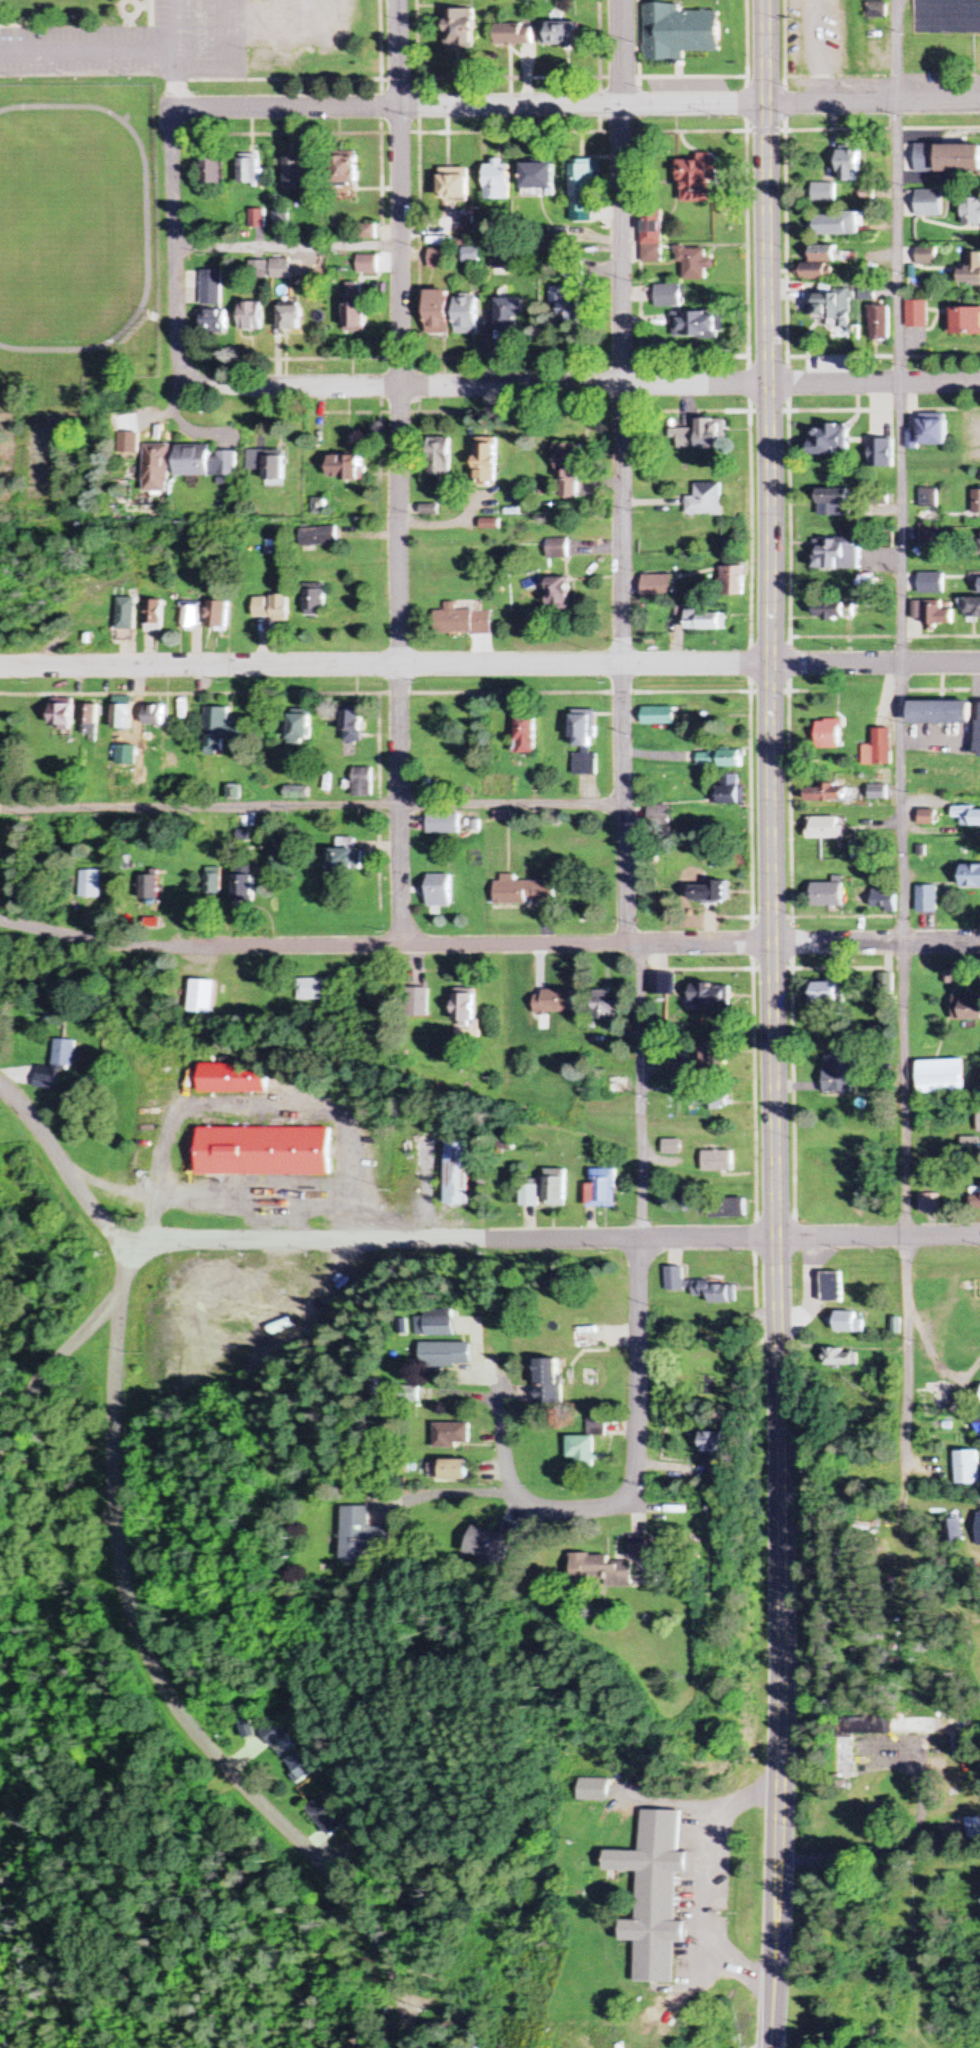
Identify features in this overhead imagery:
building: (876, 11)
building: (947, 17)
building: (460, 29)
building: (679, 33)
building: (513, 35)
building: (563, 35)
road: (574, 107)
building: (926, 159)
building: (960, 160)
building: (850, 167)
building: (210, 169)
building: (248, 172)
building: (344, 172)
building: (293, 173)
building: (537, 177)
building: (699, 179)
building: (496, 181)
building: (450, 185)
building: (582, 186)
building: (825, 193)
building: (931, 204)
building: (972, 213)
track: (143, 215)
building: (254, 219)
building: (277, 219)
building: (842, 225)
building: (651, 242)
road: (170, 247)
building: (825, 255)
building: (928, 257)
building: (437, 258)
building: (501, 260)
building: (694, 263)
building: (365, 264)
building: (277, 269)
building: (972, 272)
building: (668, 296)
building: (208, 304)
building: (836, 307)
building: (565, 309)
building: (352, 310)
building: (437, 313)
building: (510, 314)
building: (466, 315)
building: (918, 315)
building: (247, 317)
building: (287, 319)
building: (964, 322)
building: (881, 323)
building: (697, 326)
road: (576, 386)
building: (933, 434)
building: (697, 437)
building: (831, 441)
building: (882, 454)
building: (440, 457)
building: (205, 463)
building: (268, 464)
building: (487, 464)
building: (157, 469)
building: (347, 469)
road: (399, 472)
building: (568, 472)
building: (928, 497)
building: (976, 500)
building: (705, 501)
building: (832, 501)
building: (431, 510)
building: (926, 532)
building: (319, 537)
building: (979, 547)
building: (558, 548)
building: (836, 553)
building: (732, 580)
building: (930, 583)
building: (976, 585)
building: (659, 586)
building: (559, 593)
building: (315, 600)
building: (271, 606)
building: (972, 607)
building: (832, 609)
building: (931, 613)
building: (217, 615)
building: (153, 617)
building: (189, 617)
building: (126, 619)
building: (463, 620)
building: (706, 620)
road: (490, 664)
building: (942, 712)
building: (62, 714)
building: (154, 715)
building: (123, 716)
building: (659, 716)
building: (90, 719)
building: (353, 726)
building: (301, 727)
building: (219, 730)
building: (526, 733)
building: (830, 734)
building: (585, 741)
building: (881, 748)
road: (622, 753)
building: (720, 759)
building: (363, 782)
building: (732, 790)
building: (879, 792)
building: (827, 793)
building: (968, 815)
building: (928, 817)
building: (444, 823)
building: (824, 828)
building: (346, 855)
building: (971, 876)
building: (212, 883)
building: (243, 884)
building: (87, 885)
building: (148, 887)
building: (439, 890)
building: (523, 892)
building: (708, 892)
building: (827, 895)
building: (927, 899)
building: (884, 903)
road: (889, 927)
road: (771, 941)
road: (488, 945)
building: (659, 984)
building: (312, 988)
building: (828, 992)
building: (708, 996)
building: (202, 997)
building: (418, 1001)
building: (554, 1002)
building: (464, 1006)
building: (607, 1006)
building: (967, 1008)
building: (62, 1052)
building: (169, 1057)
building: (838, 1074)
building: (943, 1076)
building: (45, 1078)
building: (231, 1078)
building: (618, 1085)
building: (706, 1098)
building: (978, 1122)
building: (670, 1147)
building: (262, 1151)
road: (64, 1160)
building: (715, 1162)
building: (458, 1171)
building: (554, 1188)
building: (600, 1188)
building: (528, 1193)
building: (688, 1201)
building: (974, 1202)
building: (928, 1203)
building: (724, 1208)
road: (553, 1241)
building: (697, 1287)
building: (830, 1287)
building: (436, 1323)
building: (846, 1323)
building: (275, 1326)
building: (706, 1328)
building: (445, 1354)
road: (49, 1363)
building: (547, 1380)
building: (934, 1393)
building: (596, 1425)
building: (977, 1426)
building: (451, 1435)
building: (712, 1442)
building: (581, 1449)
road: (508, 1450)
building: (966, 1468)
building: (448, 1470)
road: (574, 1504)
building: (978, 1524)
building: (951, 1532)
building: (364, 1536)
building: (495, 1544)
building: (643, 1547)
building: (600, 1570)
road: (158, 1683)
building: (273, 1734)
building: (300, 1765)
building: (592, 1790)
building: (324, 1816)
building: (656, 1896)
road: (771, 1965)
building: (474, 2039)

